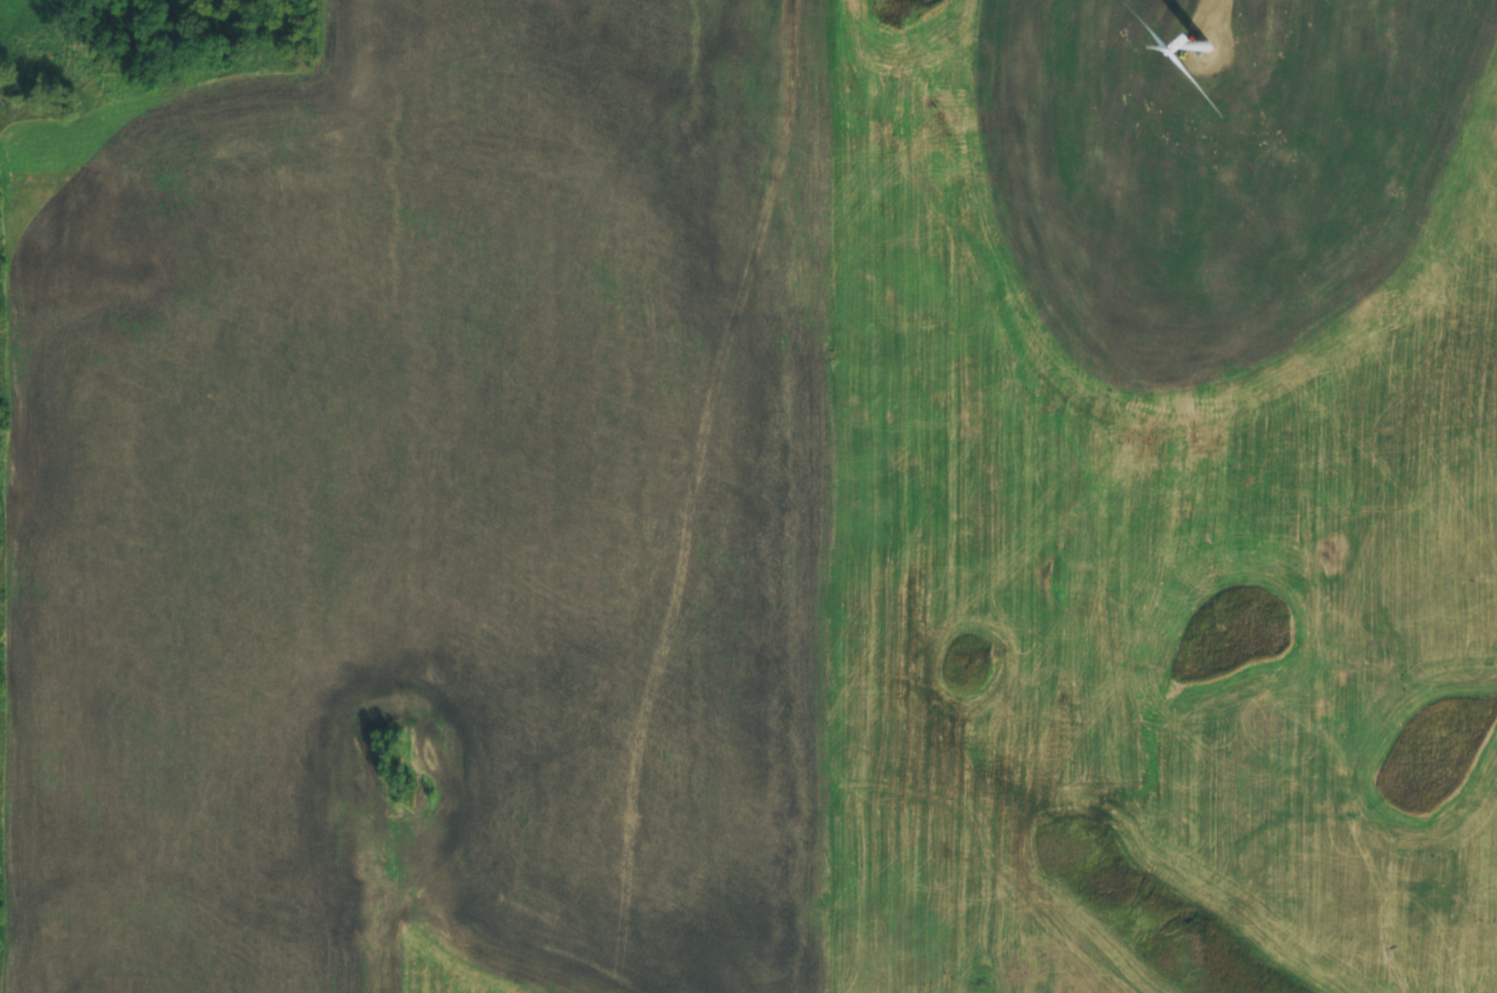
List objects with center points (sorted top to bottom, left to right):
wind turbine: (1205, 43)

